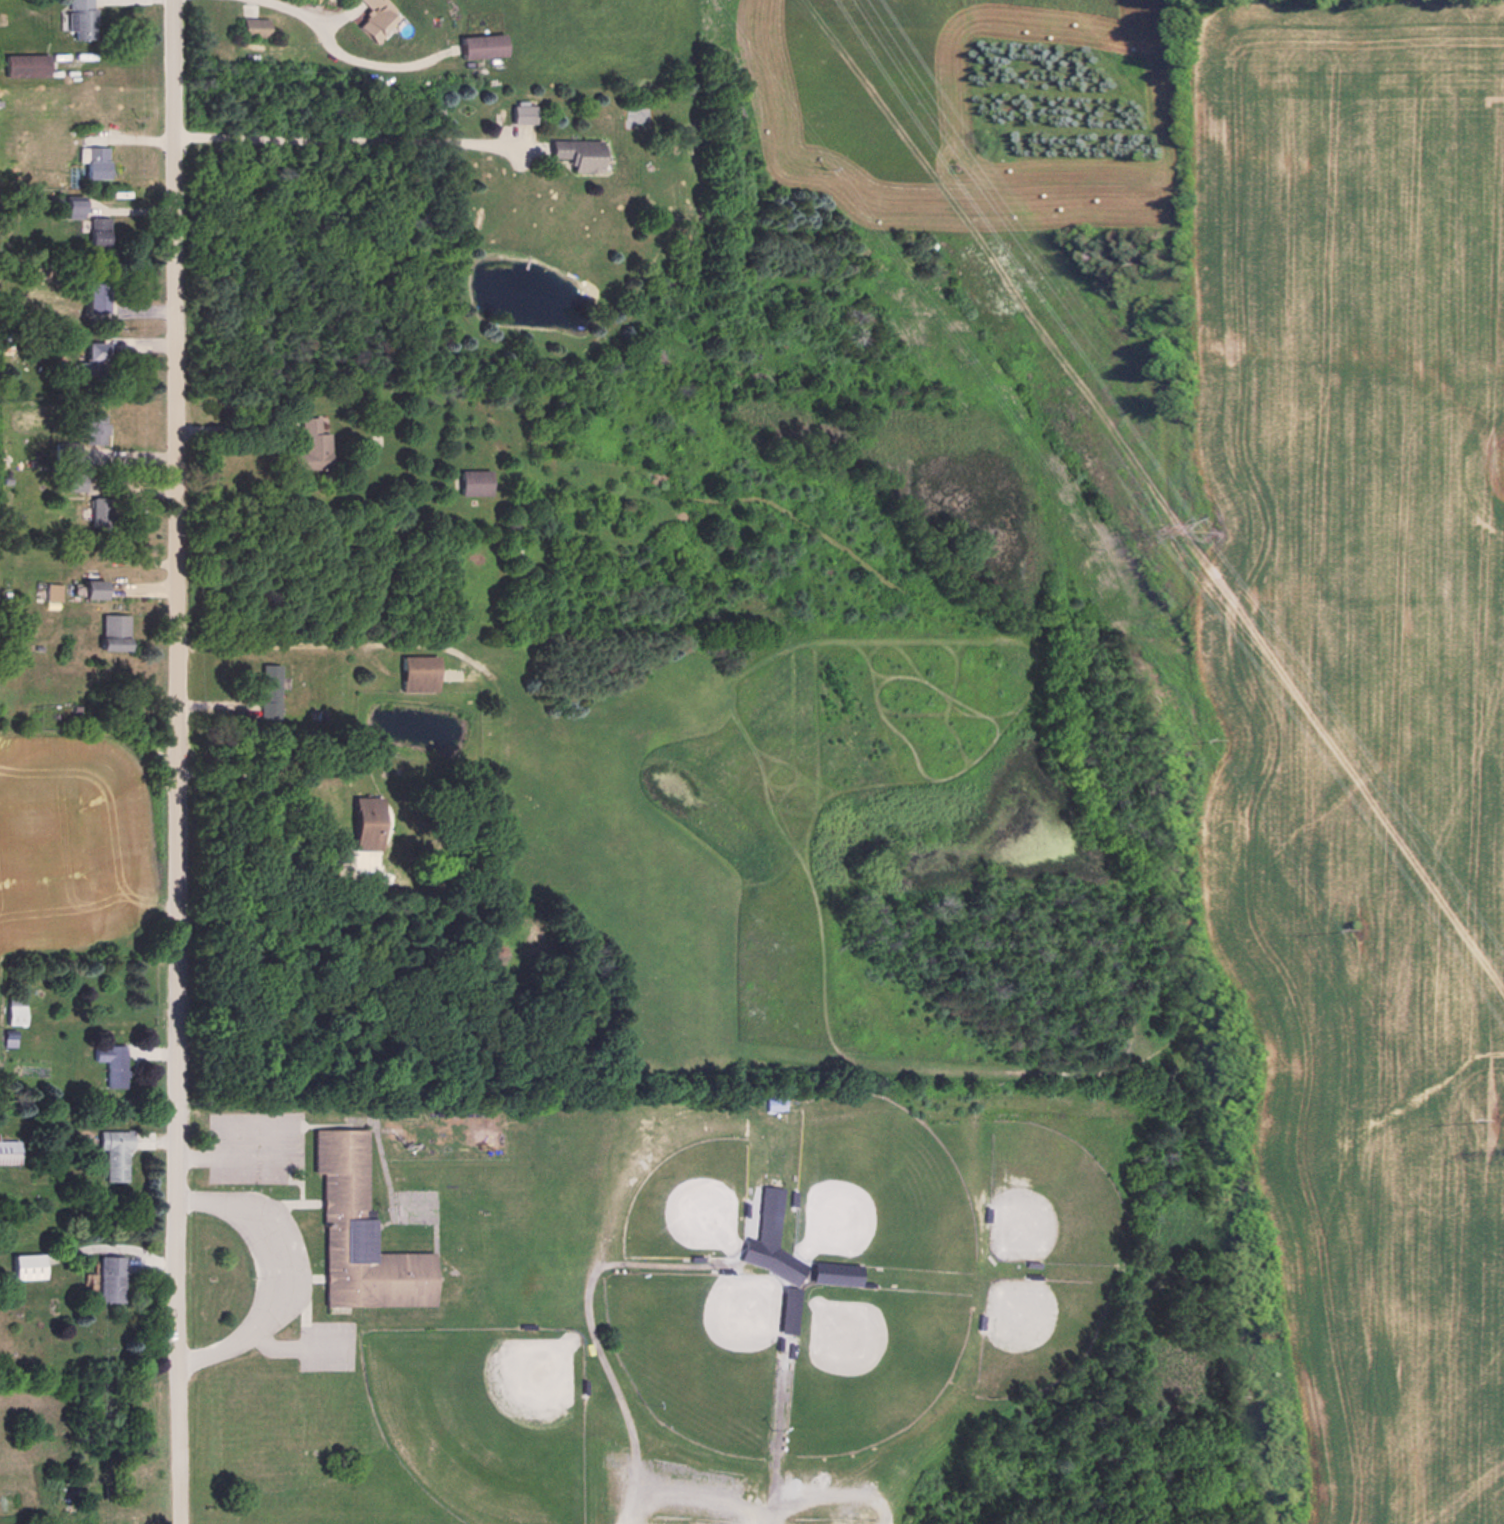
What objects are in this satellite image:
road: (300, 13)
building: (250, 19)
building: (475, 42)
road: (345, 140)
building: (568, 151)
building: (89, 157)
building: (93, 427)
building: (74, 481)
building: (472, 481)
building: (97, 511)
power tower: (1205, 528)
building: (93, 588)
building: (112, 631)
building: (418, 672)
building: (268, 690)
road: (178, 762)
building: (13, 1010)
building: (109, 1062)
building: (8, 1151)
building: (113, 1153)
building: (355, 1228)
building: (26, 1265)
building: (834, 1272)
building: (109, 1278)
building: (787, 1308)
road: (832, 1496)

